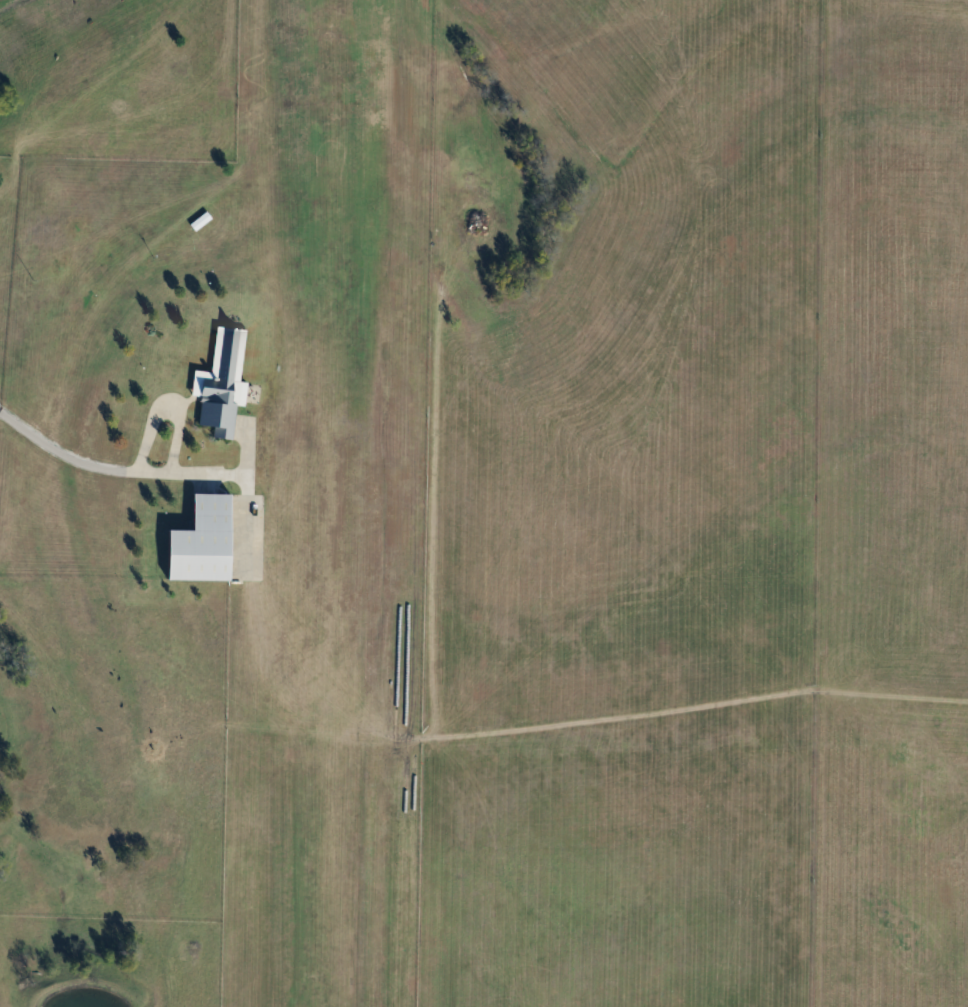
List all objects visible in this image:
building: (200, 220)
building: (221, 383)
road: (164, 404)
road: (133, 471)
airport runway: (292, 503)
airport runway: (358, 503)
building: (207, 541)

